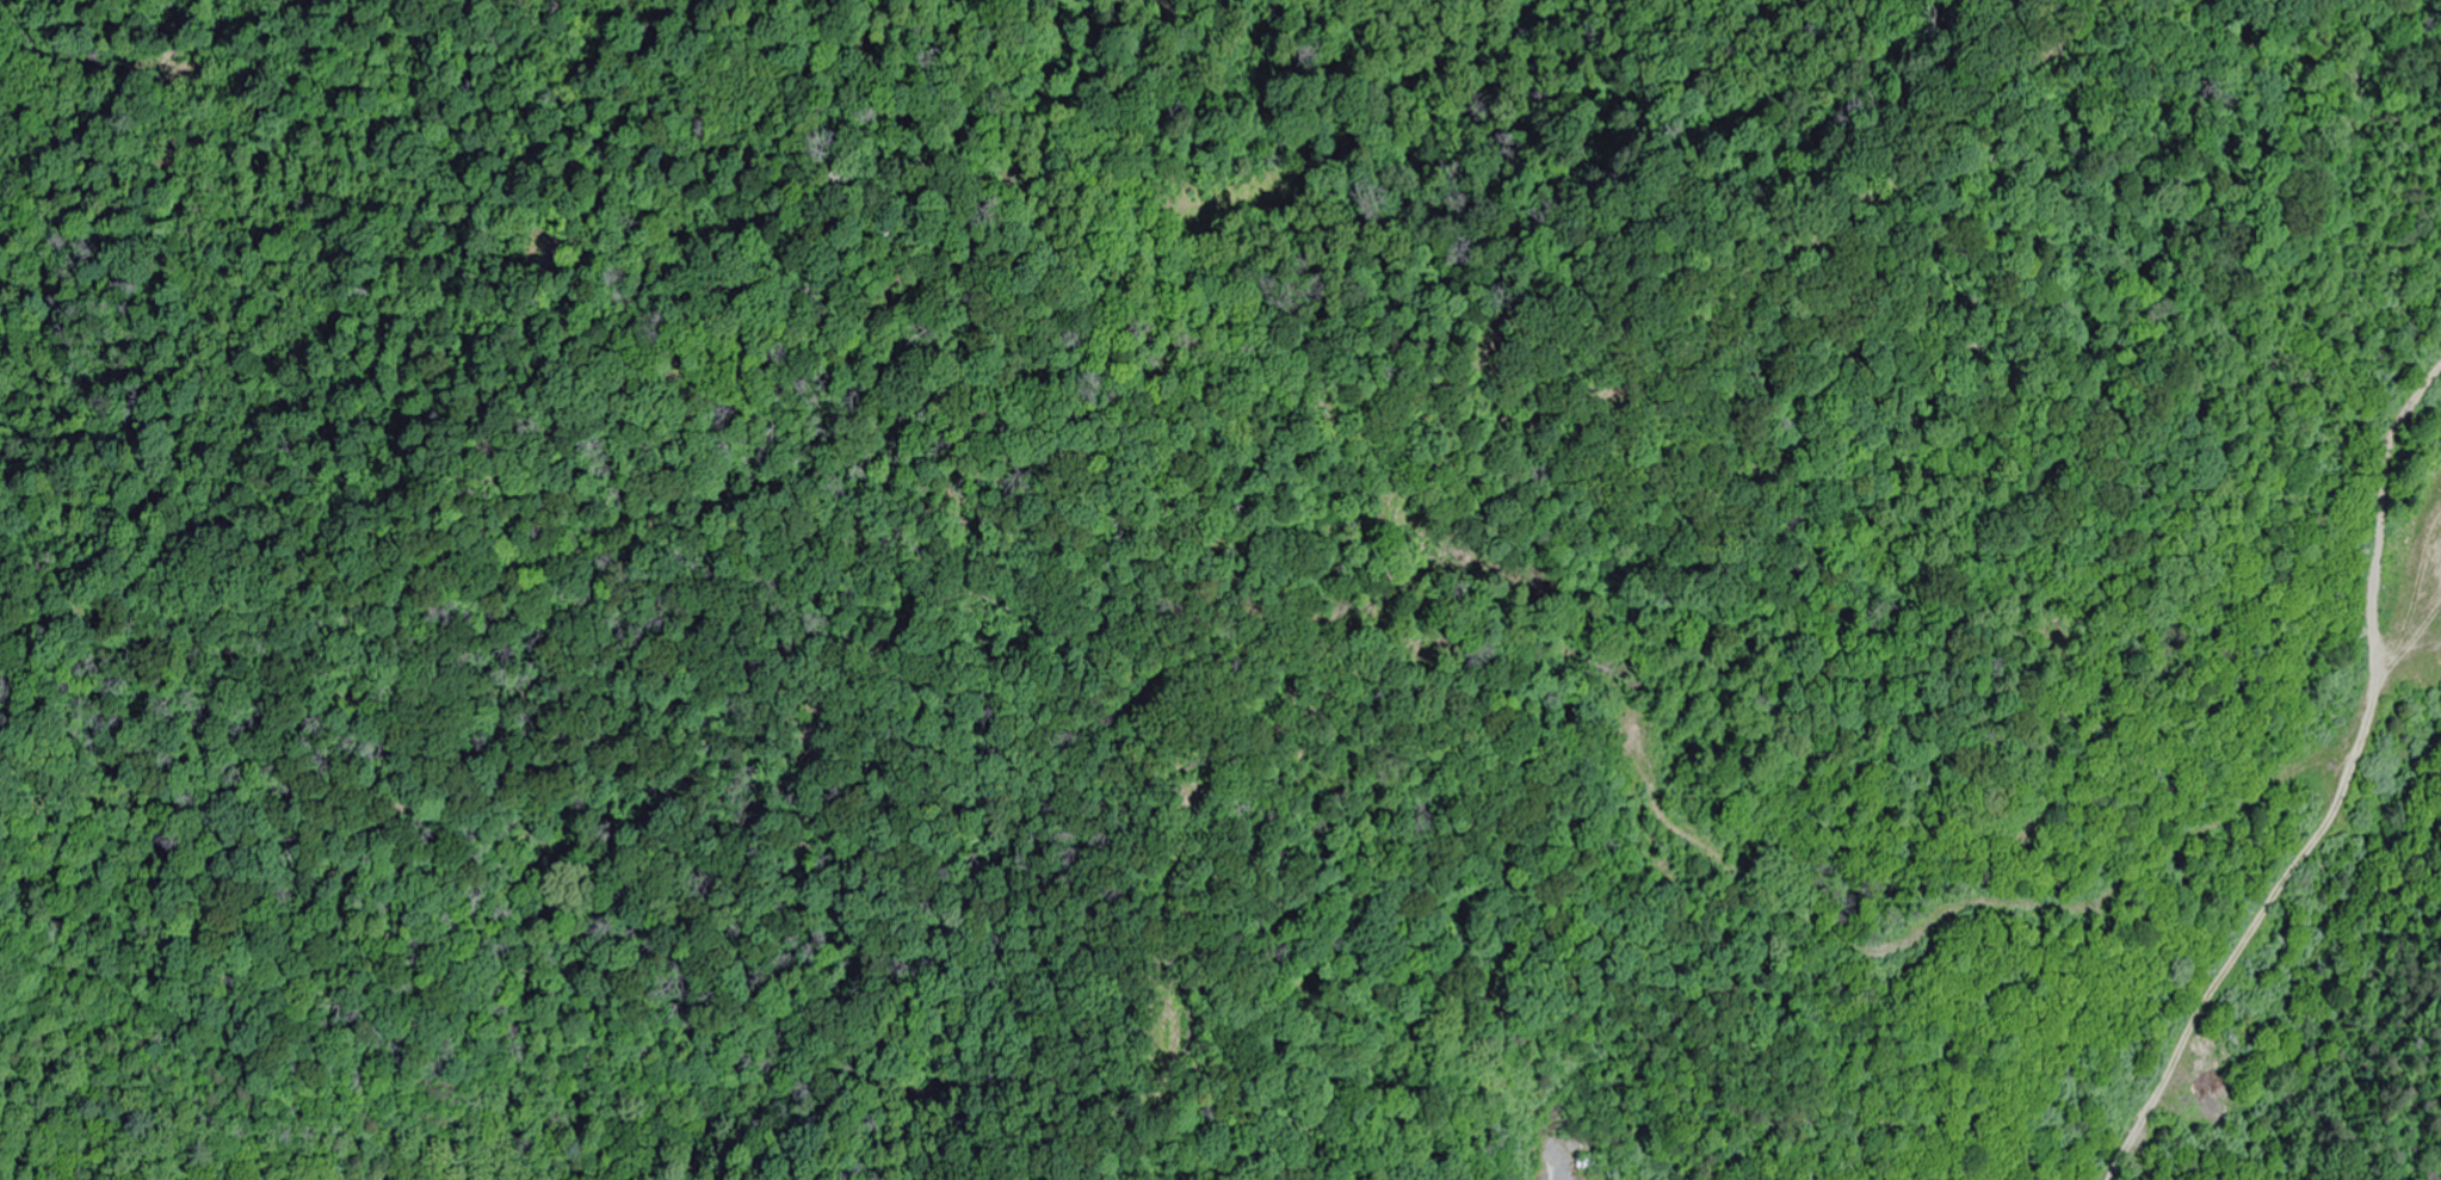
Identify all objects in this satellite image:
road: (2161, 1164)

